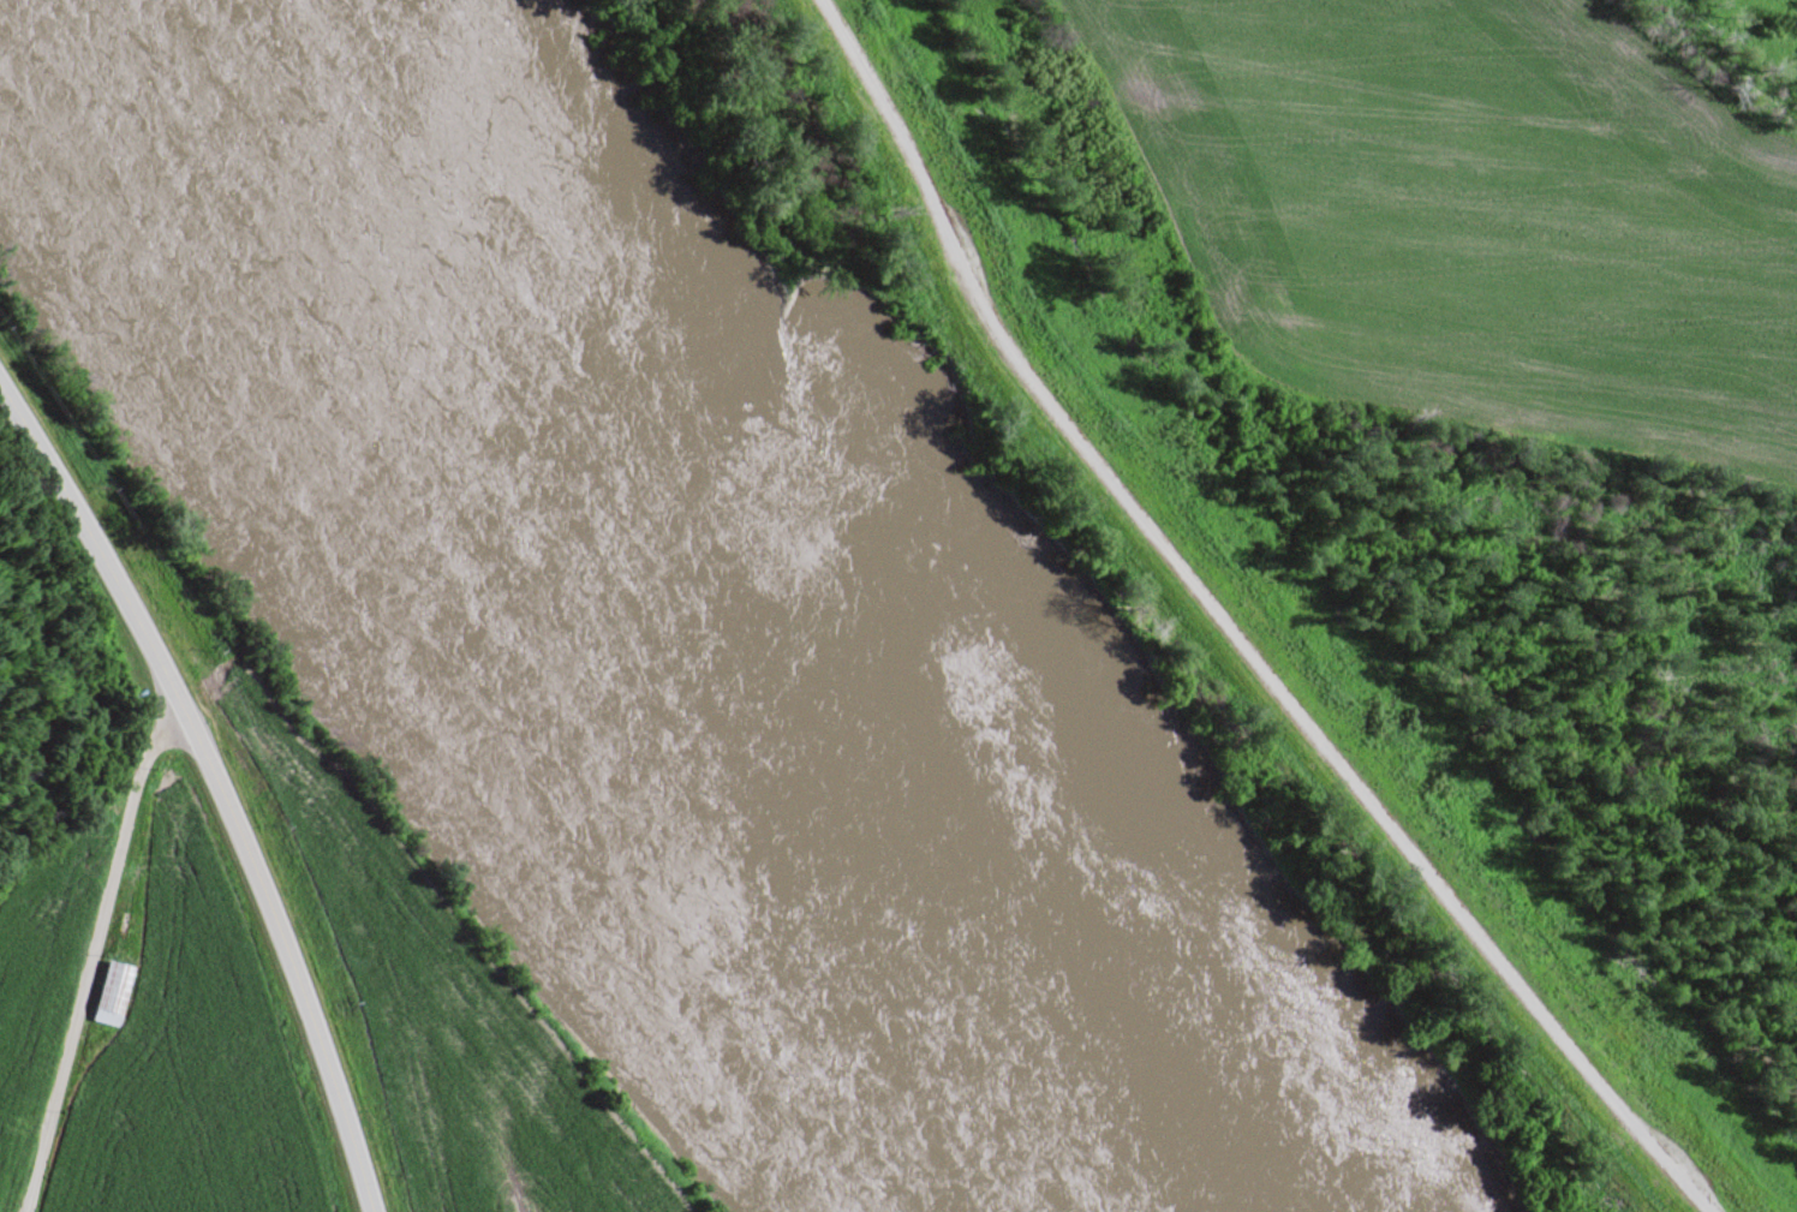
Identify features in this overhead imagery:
river: (714, 605)
road: (1235, 634)
road: (215, 781)
road: (92, 954)
building: (105, 990)

